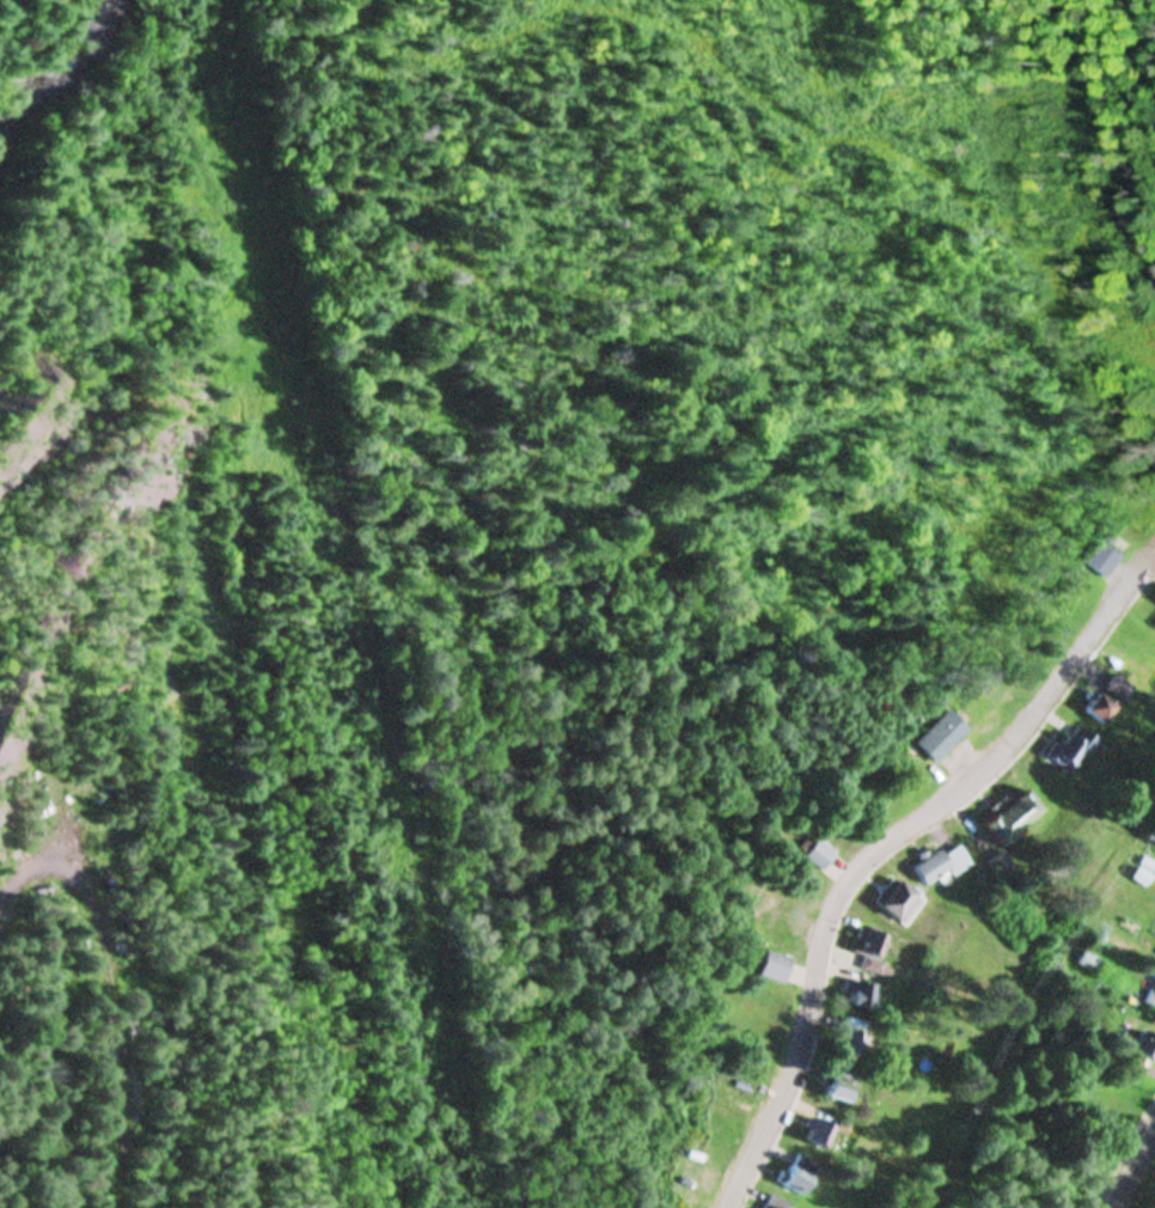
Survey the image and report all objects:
river: (48, 29)
river: (18, 93)
building: (1104, 556)
building: (1120, 685)
building: (1101, 706)
building: (940, 733)
building: (1075, 746)
building: (1010, 813)
road: (881, 840)
building: (815, 852)
building: (941, 862)
building: (896, 898)
building: (867, 945)
building: (1087, 959)
building: (772, 964)
building: (857, 992)
building: (1150, 993)
building: (852, 1035)
building: (1144, 1043)
building: (841, 1082)
building: (821, 1131)
road: (1130, 1165)
building: (805, 1172)
building: (782, 1202)

